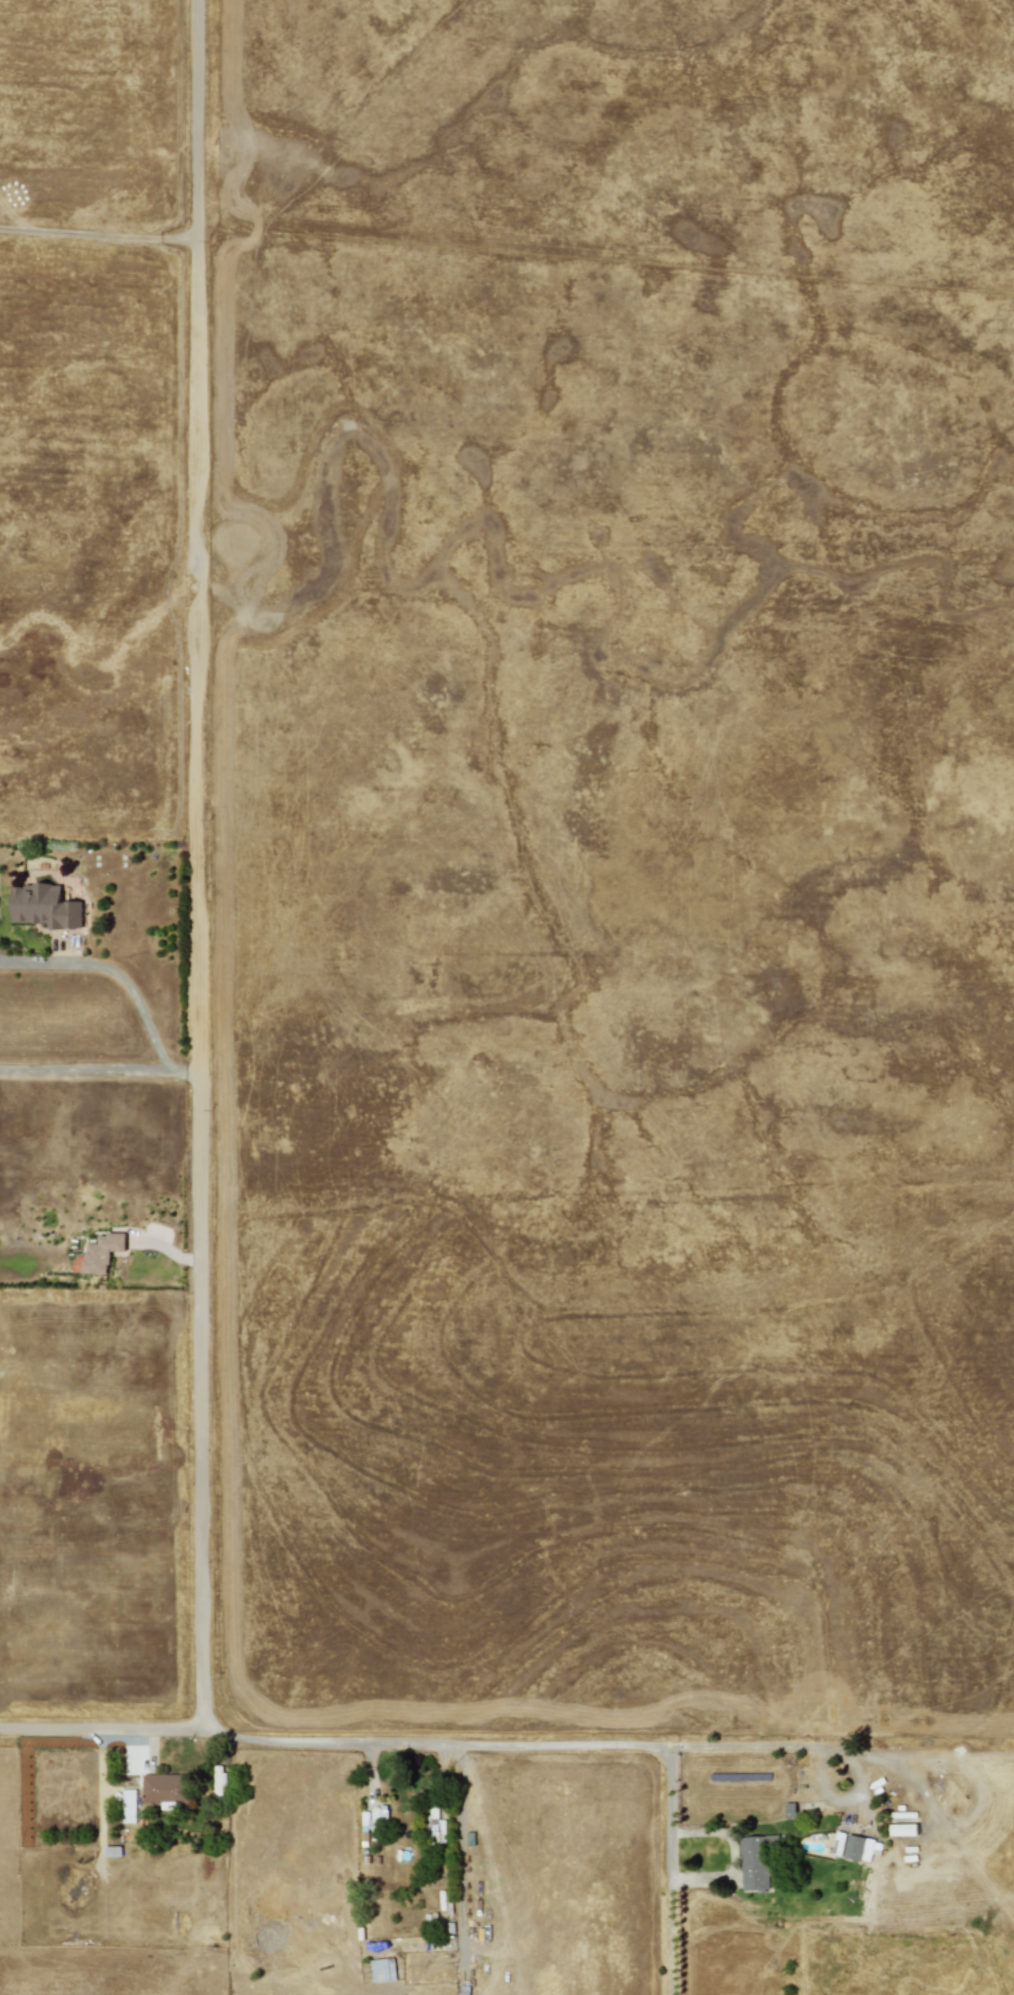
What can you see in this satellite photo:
road: (195, 120)
road: (97, 236)
road: (198, 456)
road: (196, 873)
road: (113, 973)
road: (98, 1071)
building: (98, 1254)
road: (198, 1402)
road: (101, 1730)
road: (323, 1744)
road: (801, 1744)
road: (665, 1764)
building: (218, 1780)
building: (164, 1789)
building: (126, 1806)
building: (789, 1810)
building: (434, 1827)
building: (903, 1830)
building: (838, 1844)
building: (858, 1847)
road: (727, 1852)
road: (459, 1853)
building: (755, 1861)
building: (382, 1970)

